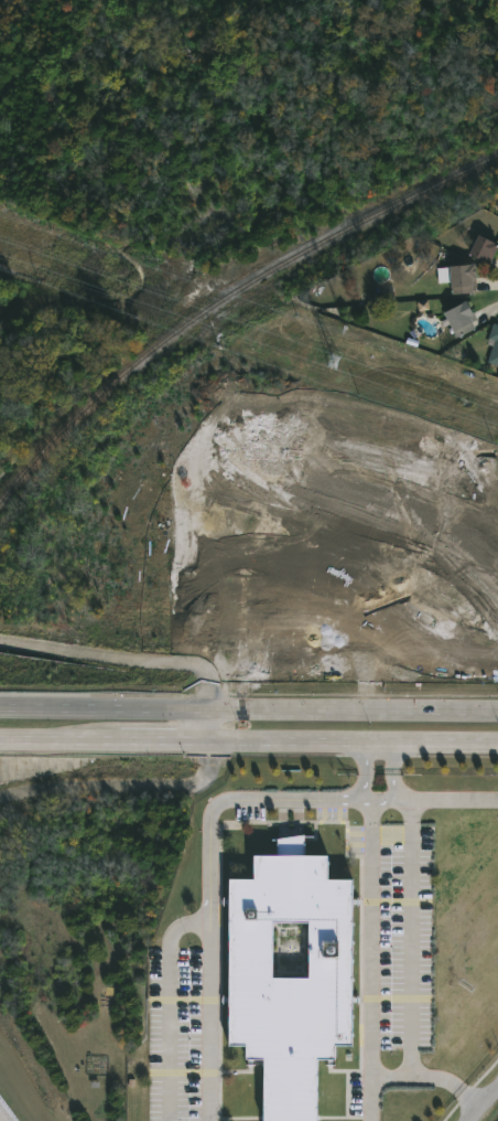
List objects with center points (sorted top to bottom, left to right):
park: (231, 109)
building: (479, 248)
building: (456, 276)
railway: (227, 295)
building: (457, 318)
building: (492, 343)
power tower: (333, 362)
road: (121, 656)
road: (104, 709)
road: (353, 711)
road: (208, 723)
road: (105, 737)
road: (353, 739)
road: (364, 768)
road: (396, 768)
road: (122, 784)
road: (379, 797)
road: (453, 800)
road: (210, 898)
building: (290, 973)
road: (411, 973)
road: (373, 1080)
road: (486, 1108)

